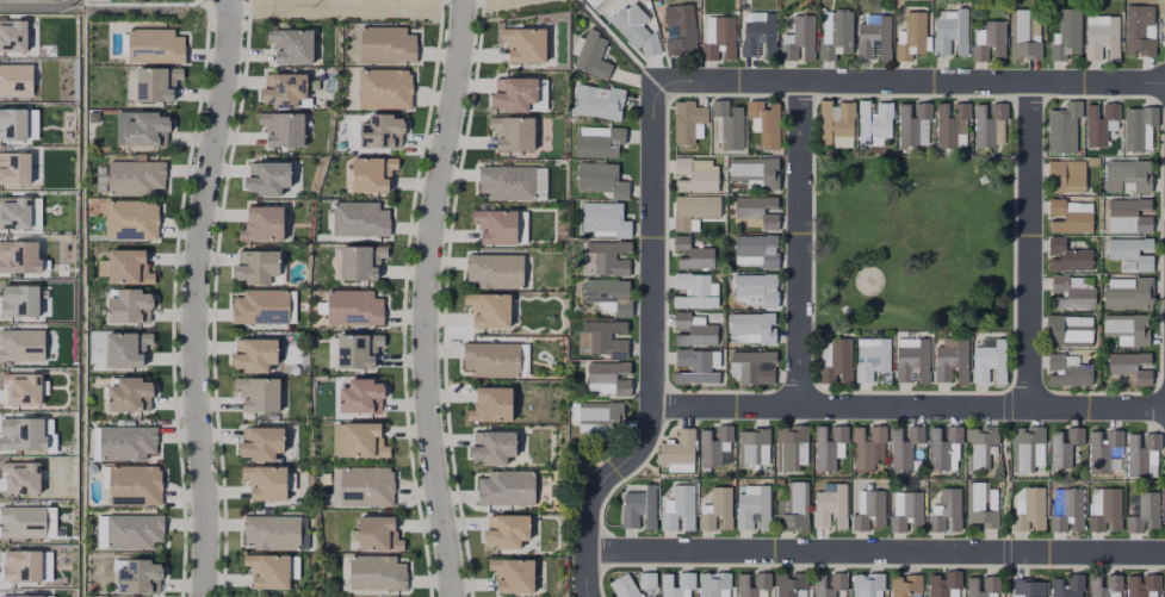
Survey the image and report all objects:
road: (471, 2)
road: (345, 6)
building: (680, 25)
building: (1139, 25)
building: (634, 30)
building: (1023, 30)
building: (950, 31)
building: (12, 33)
building: (760, 33)
building: (1102, 35)
building: (721, 36)
building: (800, 36)
building: (874, 36)
building: (990, 37)
building: (835, 38)
building: (1066, 39)
building: (1164, 41)
building: (912, 42)
building: (155, 46)
building: (386, 46)
building: (296, 48)
building: (525, 48)
building: (589, 60)
building: (327, 73)
building: (14, 79)
building: (156, 83)
building: (285, 91)
building: (384, 92)
road: (651, 95)
building: (515, 98)
building: (597, 101)
building: (875, 117)
building: (837, 120)
building: (913, 120)
building: (950, 120)
building: (1101, 120)
building: (767, 122)
building: (990, 122)
building: (12, 123)
building: (687, 128)
building: (727, 129)
building: (145, 130)
building: (286, 130)
building: (1062, 131)
building: (1139, 132)
building: (380, 136)
building: (512, 137)
building: (597, 143)
building: (13, 166)
building: (756, 169)
building: (696, 173)
building: (1128, 173)
building: (269, 175)
building: (1065, 175)
building: (135, 176)
building: (372, 176)
building: (100, 179)
building: (599, 184)
building: (507, 185)
building: (690, 207)
building: (13, 211)
building: (1132, 211)
building: (755, 212)
building: (1068, 216)
building: (131, 219)
building: (267, 219)
building: (359, 222)
building: (601, 223)
building: (495, 229)
road: (799, 244)
road: (1030, 244)
building: (757, 248)
building: (694, 250)
building: (1130, 250)
building: (18, 255)
building: (609, 255)
building: (1068, 255)
building: (126, 263)
building: (259, 265)
building: (360, 266)
building: (494, 273)
building: (1078, 281)
building: (756, 287)
building: (694, 290)
building: (1129, 292)
building: (1071, 293)
building: (603, 296)
road: (193, 297)
road: (423, 298)
building: (18, 299)
building: (130, 305)
building: (261, 306)
building: (353, 311)
building: (488, 313)
building: (755, 323)
building: (1129, 325)
building: (693, 330)
building: (1067, 330)
building: (603, 336)
building: (20, 343)
building: (128, 347)
building: (255, 353)
building: (357, 355)
building: (842, 355)
building: (952, 357)
building: (874, 360)
building: (912, 360)
building: (990, 360)
building: (491, 361)
building: (752, 365)
building: (694, 366)
building: (1129, 367)
building: (1068, 369)
building: (611, 374)
building: (20, 387)
building: (259, 392)
building: (130, 393)
building: (360, 400)
road: (909, 405)
building: (490, 408)
building: (603, 413)
building: (20, 433)
building: (128, 441)
building: (262, 441)
building: (751, 443)
building: (904, 443)
building: (1065, 443)
building: (362, 444)
building: (715, 444)
building: (828, 444)
building: (867, 444)
building: (980, 444)
building: (792, 446)
building: (943, 446)
building: (1027, 446)
building: (677, 447)
building: (492, 449)
building: (1104, 449)
building: (1141, 450)
building: (678, 468)
building: (19, 475)
building: (266, 480)
building: (135, 484)
building: (365, 487)
building: (506, 490)
building: (1164, 498)
building: (830, 503)
building: (980, 503)
building: (639, 505)
building: (794, 505)
building: (680, 506)
building: (754, 506)
building: (1030, 506)
building: (718, 508)
building: (947, 508)
building: (1070, 508)
building: (1108, 508)
building: (1144, 508)
building: (870, 509)
building: (909, 510)
building: (21, 521)
building: (135, 529)
building: (100, 531)
building: (272, 531)
building: (303, 533)
building: (507, 534)
building: (377, 537)
road: (874, 552)
building: (19, 565)
building: (269, 568)
building: (140, 576)
building: (376, 576)
building: (513, 578)
building: (686, 578)
building: (763, 578)
building: (838, 578)
building: (647, 579)
building: (943, 582)
building: (991, 582)
building: (713, 583)
building: (789, 583)
building: (867, 583)
building: (1142, 583)
building: (905, 584)
building: (1067, 585)
building: (1105, 585)
building: (1164, 585)
building: (625, 586)
building: (1029, 586)
building: (18, 595)

